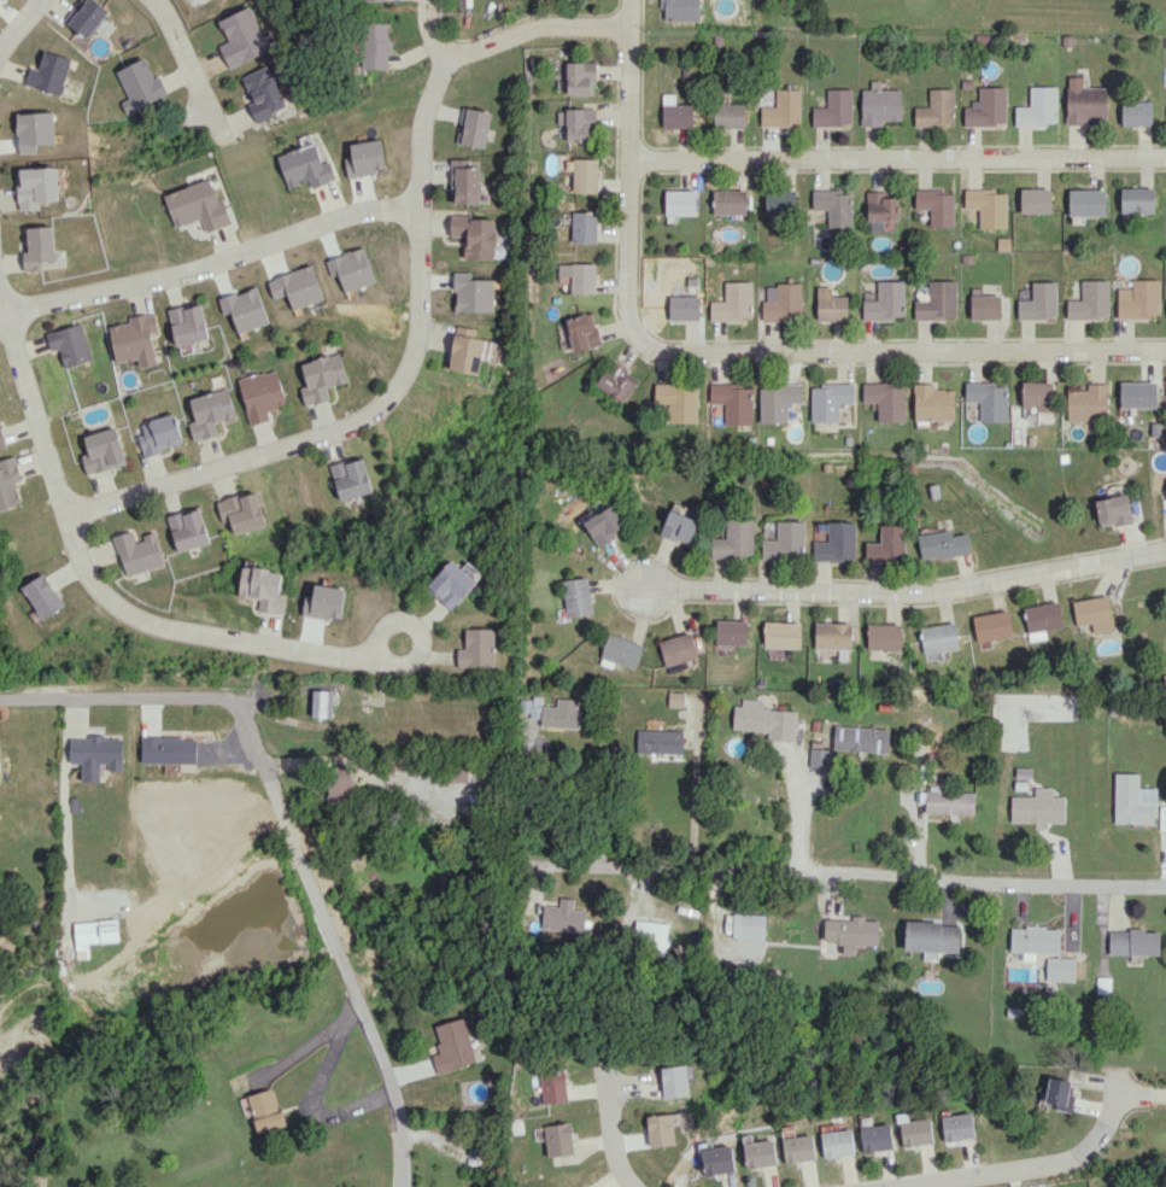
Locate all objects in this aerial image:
building: (386, 0)
building: (681, 10)
building: (86, 17)
road: (537, 22)
road: (18, 24)
road: (424, 35)
building: (242, 36)
building: (375, 45)
road: (189, 69)
building: (47, 72)
building: (581, 78)
building: (140, 84)
building: (263, 93)
building: (1084, 101)
building: (880, 104)
building: (1038, 106)
building: (988, 107)
building: (783, 109)
building: (834, 109)
building: (936, 109)
building: (676, 112)
building: (1136, 112)
building: (730, 115)
building: (578, 124)
building: (473, 127)
road: (897, 156)
building: (305, 166)
building: (585, 175)
building: (35, 187)
building: (1137, 199)
building: (1035, 200)
building: (680, 201)
building: (730, 201)
building: (1086, 201)
building: (780, 203)
building: (197, 205)
building: (936, 205)
building: (834, 206)
building: (988, 206)
building: (881, 211)
building: (584, 227)
building: (476, 235)
building: (37, 246)
road: (210, 263)
building: (580, 276)
building: (1138, 299)
building: (1090, 300)
building: (733, 302)
building: (783, 302)
building: (886, 302)
building: (937, 302)
building: (1039, 302)
building: (831, 305)
building: (985, 306)
building: (684, 308)
building: (188, 324)
building: (582, 331)
building: (135, 340)
building: (70, 344)
road: (731, 349)
building: (470, 352)
building: (322, 378)
building: (617, 381)
road: (392, 393)
building: (1137, 393)
building: (262, 394)
building: (1037, 394)
building: (886, 399)
building: (989, 399)
building: (678, 400)
building: (778, 400)
building: (830, 400)
building: (733, 402)
building: (1088, 402)
building: (933, 403)
building: (211, 413)
building: (160, 433)
building: (2, 438)
building: (104, 451)
building: (352, 478)
building: (10, 483)
building: (1114, 510)
building: (244, 511)
building: (605, 525)
building: (680, 526)
building: (189, 528)
building: (736, 539)
building: (786, 542)
building: (837, 543)
building: (887, 544)
building: (943, 544)
building: (140, 552)
road: (93, 577)
building: (452, 584)
building: (263, 587)
road: (908, 590)
building: (43, 596)
building: (578, 596)
building: (1095, 613)
building: (1043, 616)
building: (992, 625)
building: (731, 632)
building: (781, 635)
building: (833, 635)
building: (884, 636)
building: (939, 637)
building: (477, 648)
building: (678, 649)
building: (621, 650)
road: (414, 660)
building: (675, 698)
building: (322, 703)
building: (553, 712)
building: (764, 720)
building: (861, 738)
building: (660, 741)
building: (169, 749)
building: (96, 755)
building: (820, 758)
road: (361, 766)
building: (0, 768)
building: (340, 783)
road: (556, 796)
building: (1132, 800)
road: (698, 801)
building: (950, 802)
road: (796, 807)
building: (1037, 808)
road: (295, 824)
road: (824, 871)
building: (563, 916)
building: (748, 925)
building: (650, 932)
building: (851, 932)
building: (94, 934)
building: (932, 936)
building: (1035, 941)
building: (1133, 942)
building: (1061, 969)
building: (453, 1046)
building: (678, 1080)
building: (553, 1086)
building: (1060, 1093)
building: (264, 1110)
building: (957, 1125)
building: (661, 1129)
building: (916, 1132)
road: (614, 1136)
building: (877, 1138)
building: (559, 1139)
building: (838, 1142)
building: (798, 1148)
building: (760, 1153)
building: (717, 1159)
road: (1026, 1166)
road: (910, 1185)

